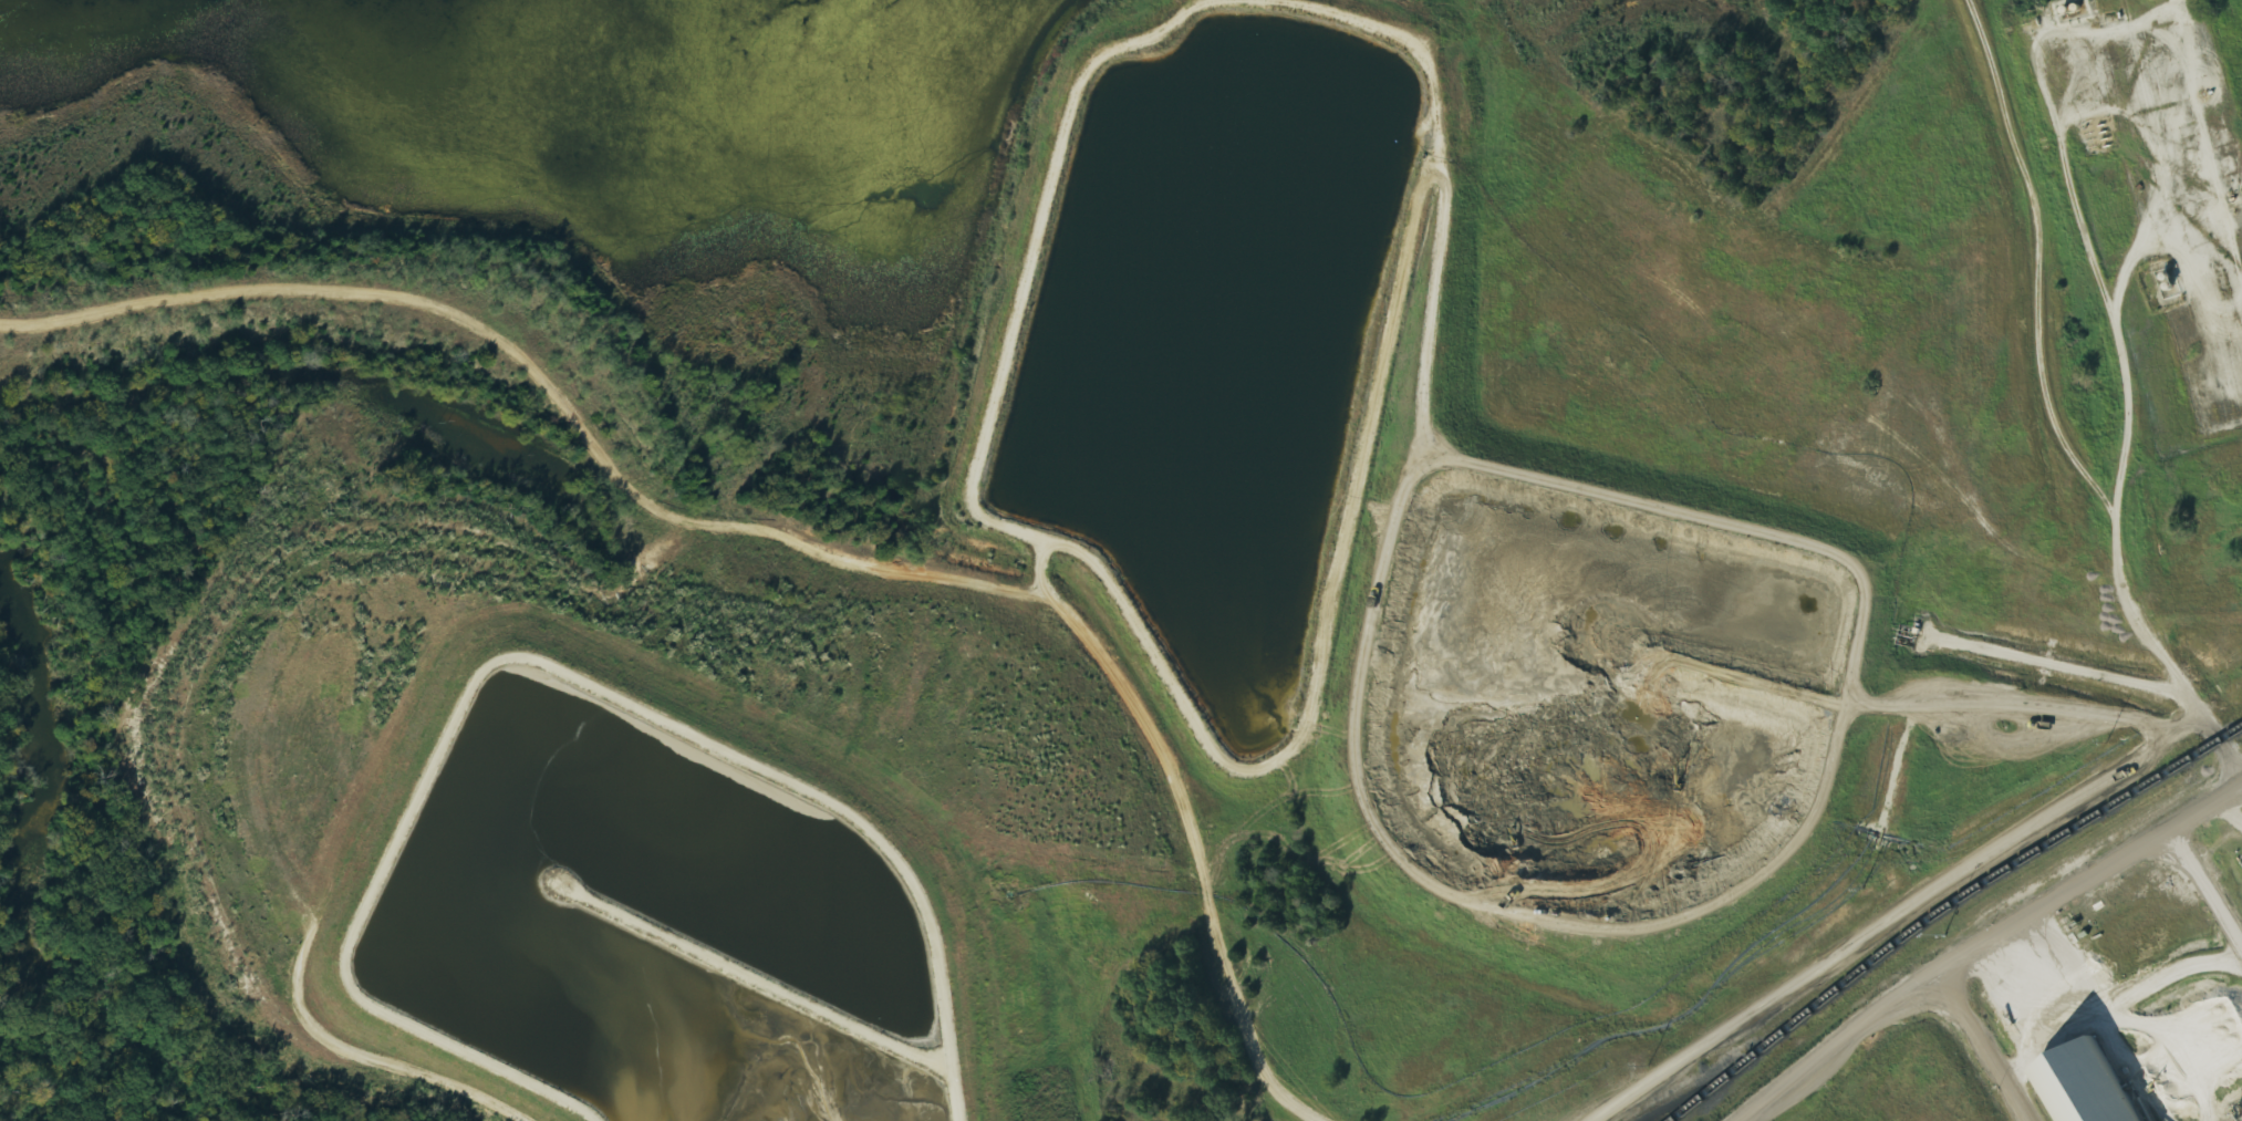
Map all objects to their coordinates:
power plant: (1632, 540)
railway: (1944, 909)
railway: (1720, 1063)
building: (2094, 1086)

